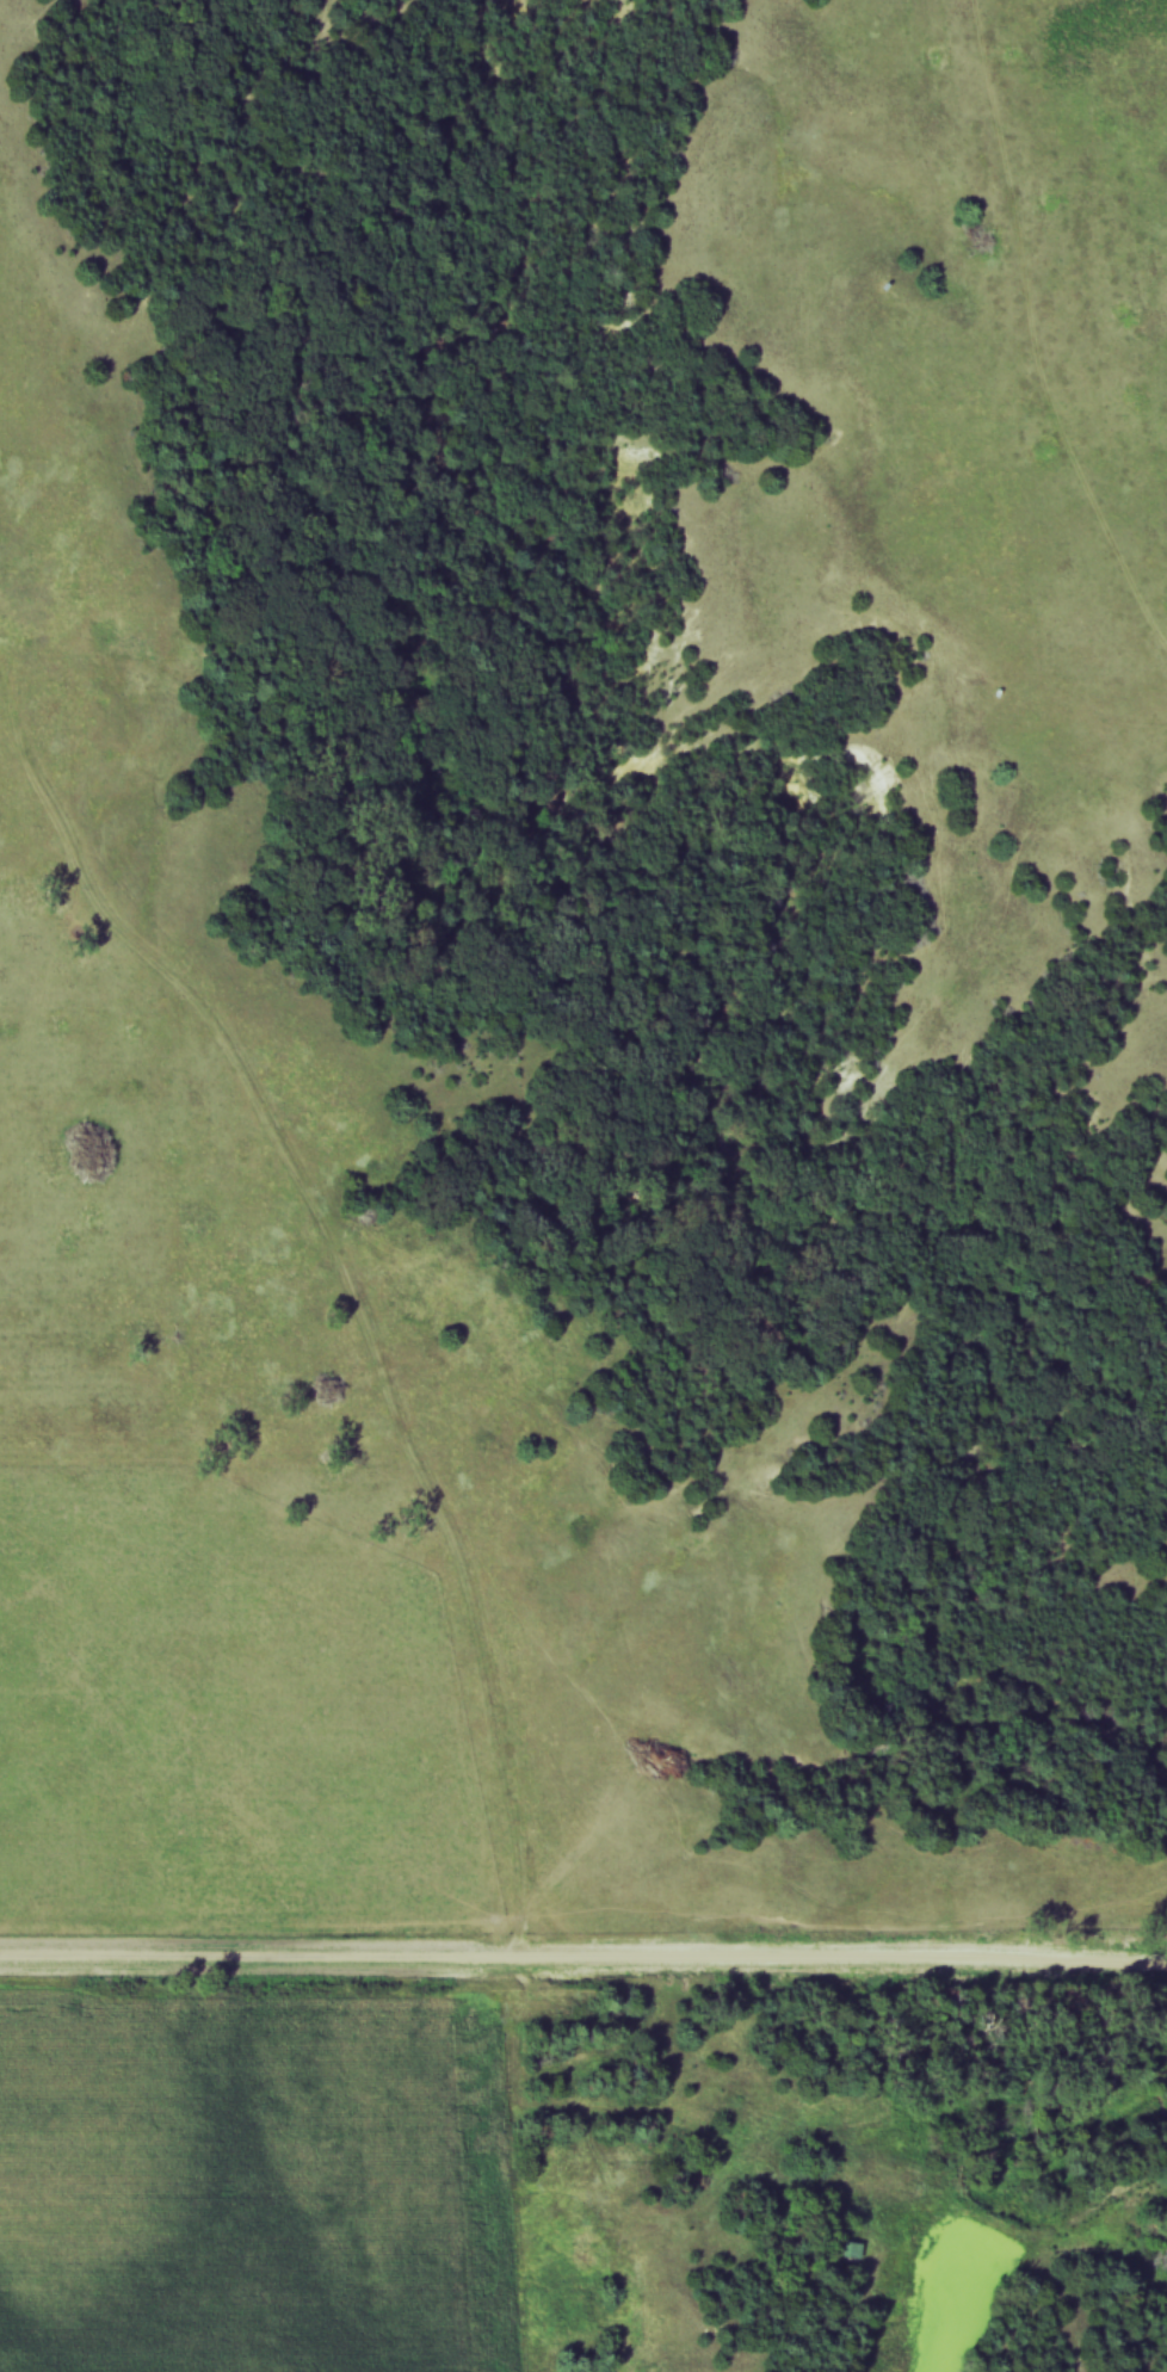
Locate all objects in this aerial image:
road: (583, 1964)
building: (850, 2250)

